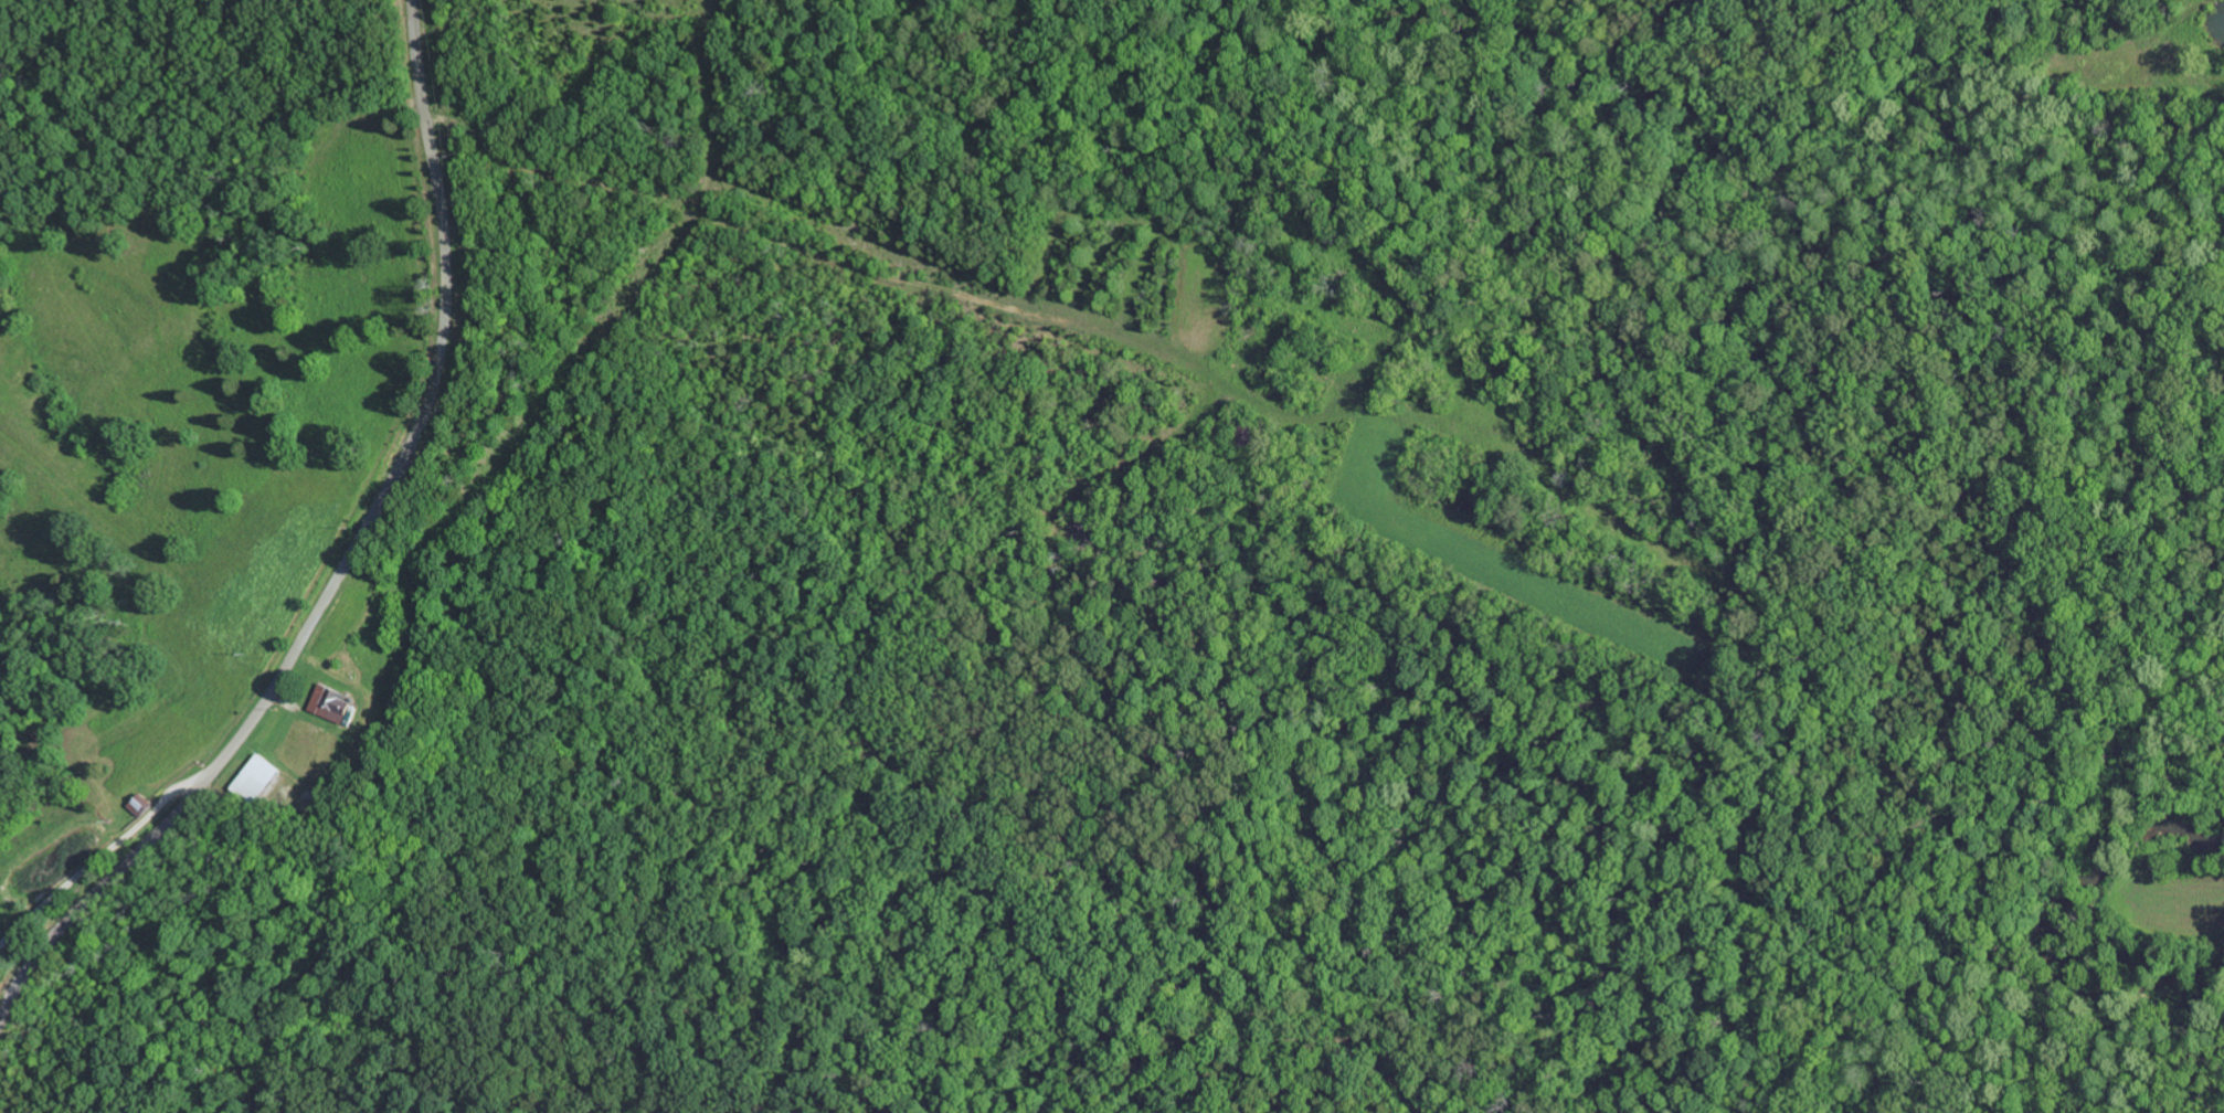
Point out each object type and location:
road: (907, 304)
road: (346, 563)
building: (329, 702)
building: (252, 778)

